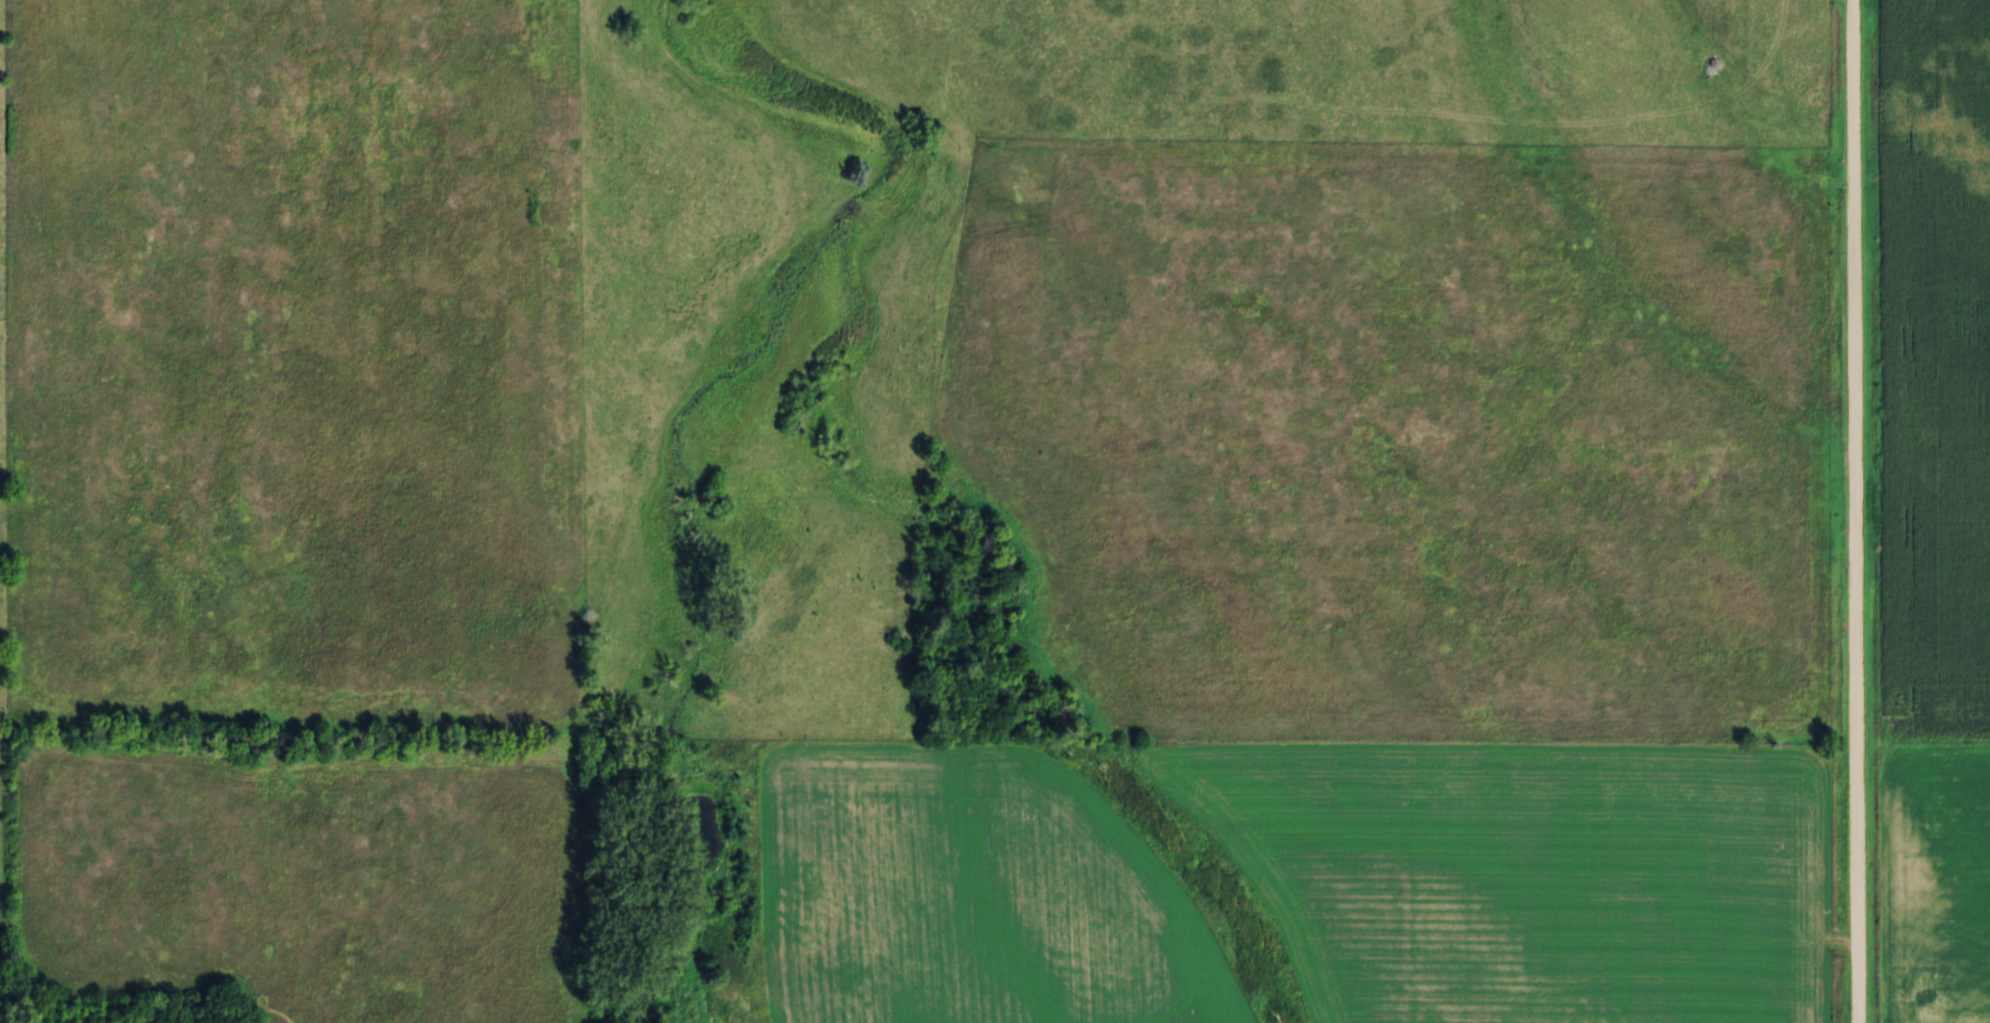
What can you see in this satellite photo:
road: (1856, 511)

